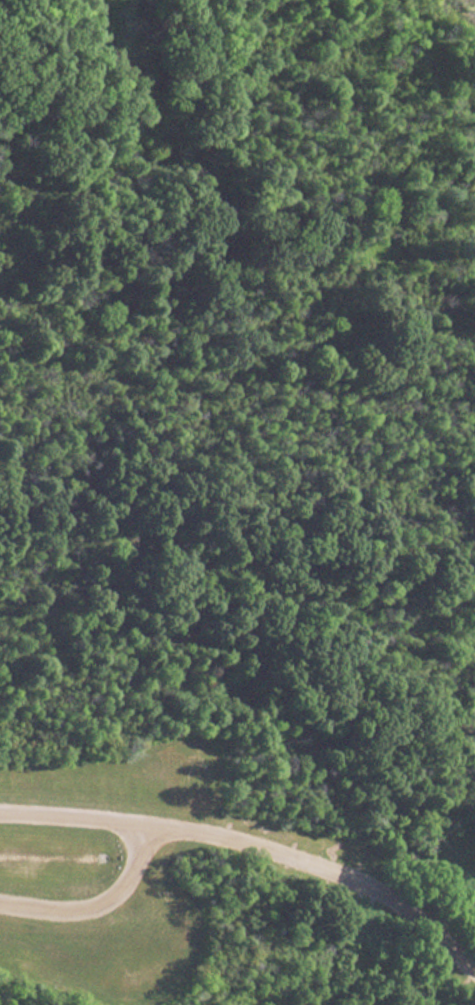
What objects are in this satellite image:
park: (237, 502)
road: (252, 846)
parking lot: (84, 870)
road: (98, 901)

